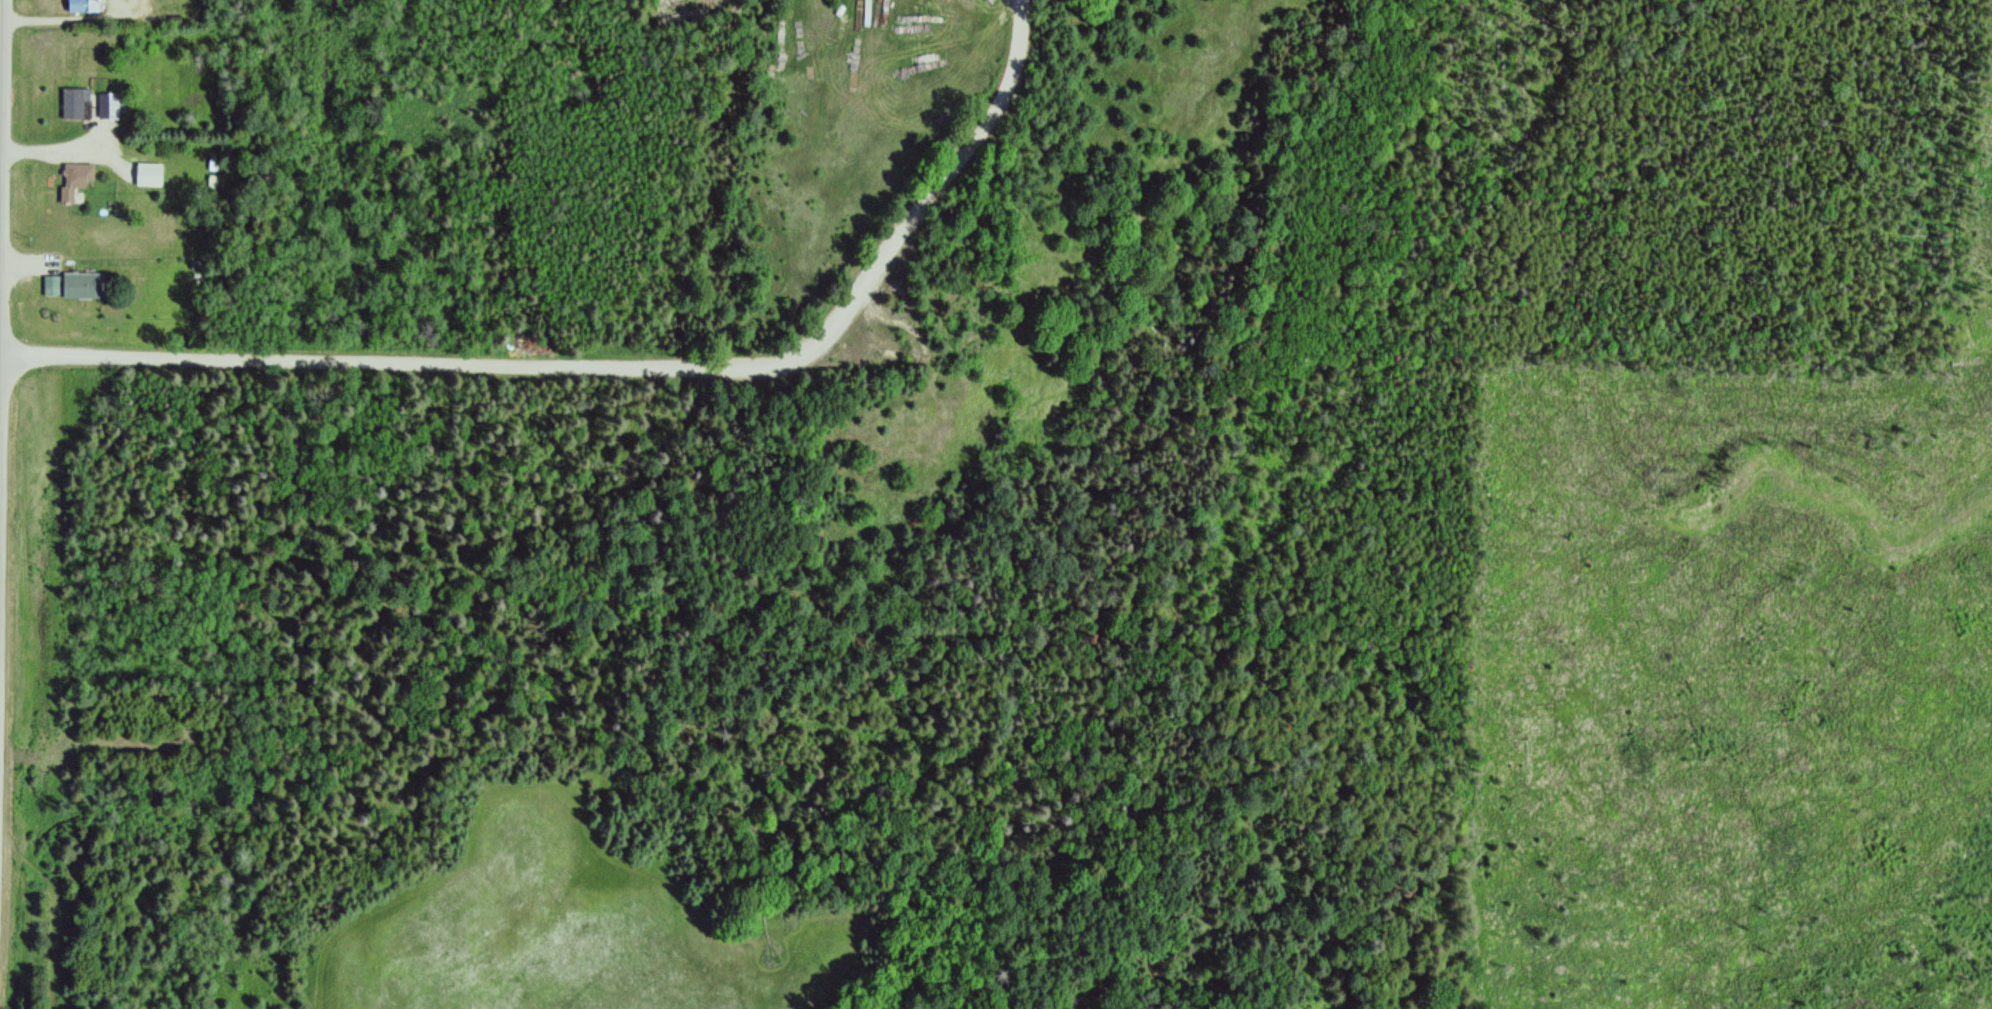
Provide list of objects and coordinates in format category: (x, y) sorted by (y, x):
building: (81, 4)
building: (72, 98)
building: (106, 103)
building: (147, 169)
building: (73, 174)
building: (48, 281)
building: (80, 281)
road: (616, 366)

